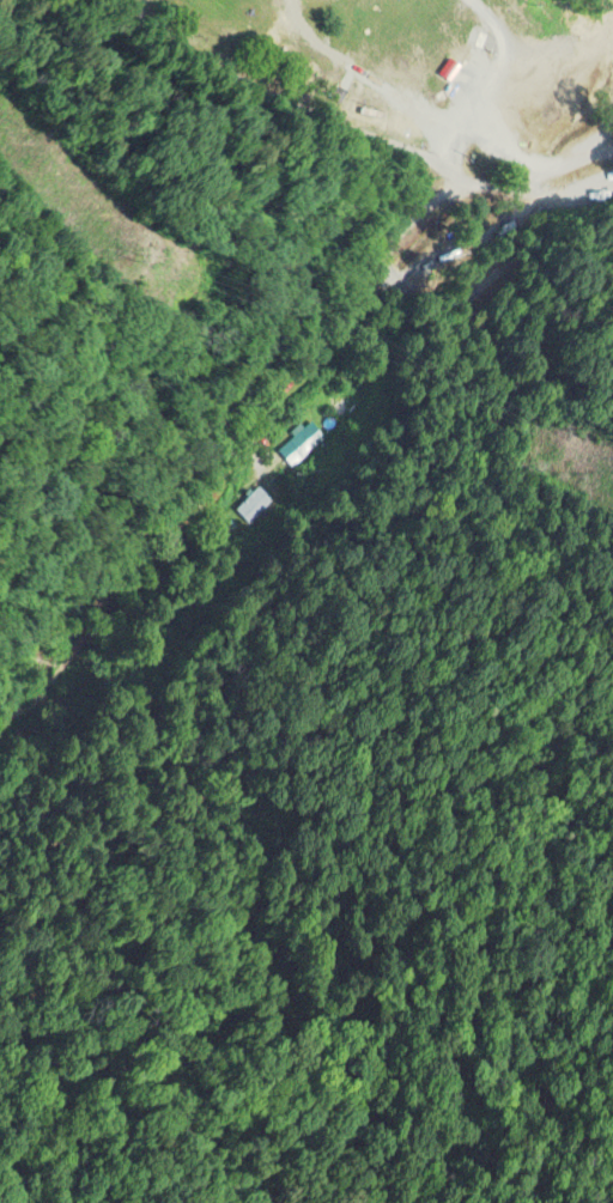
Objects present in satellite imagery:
building: (485, 40)
road: (363, 142)
road: (195, 452)

